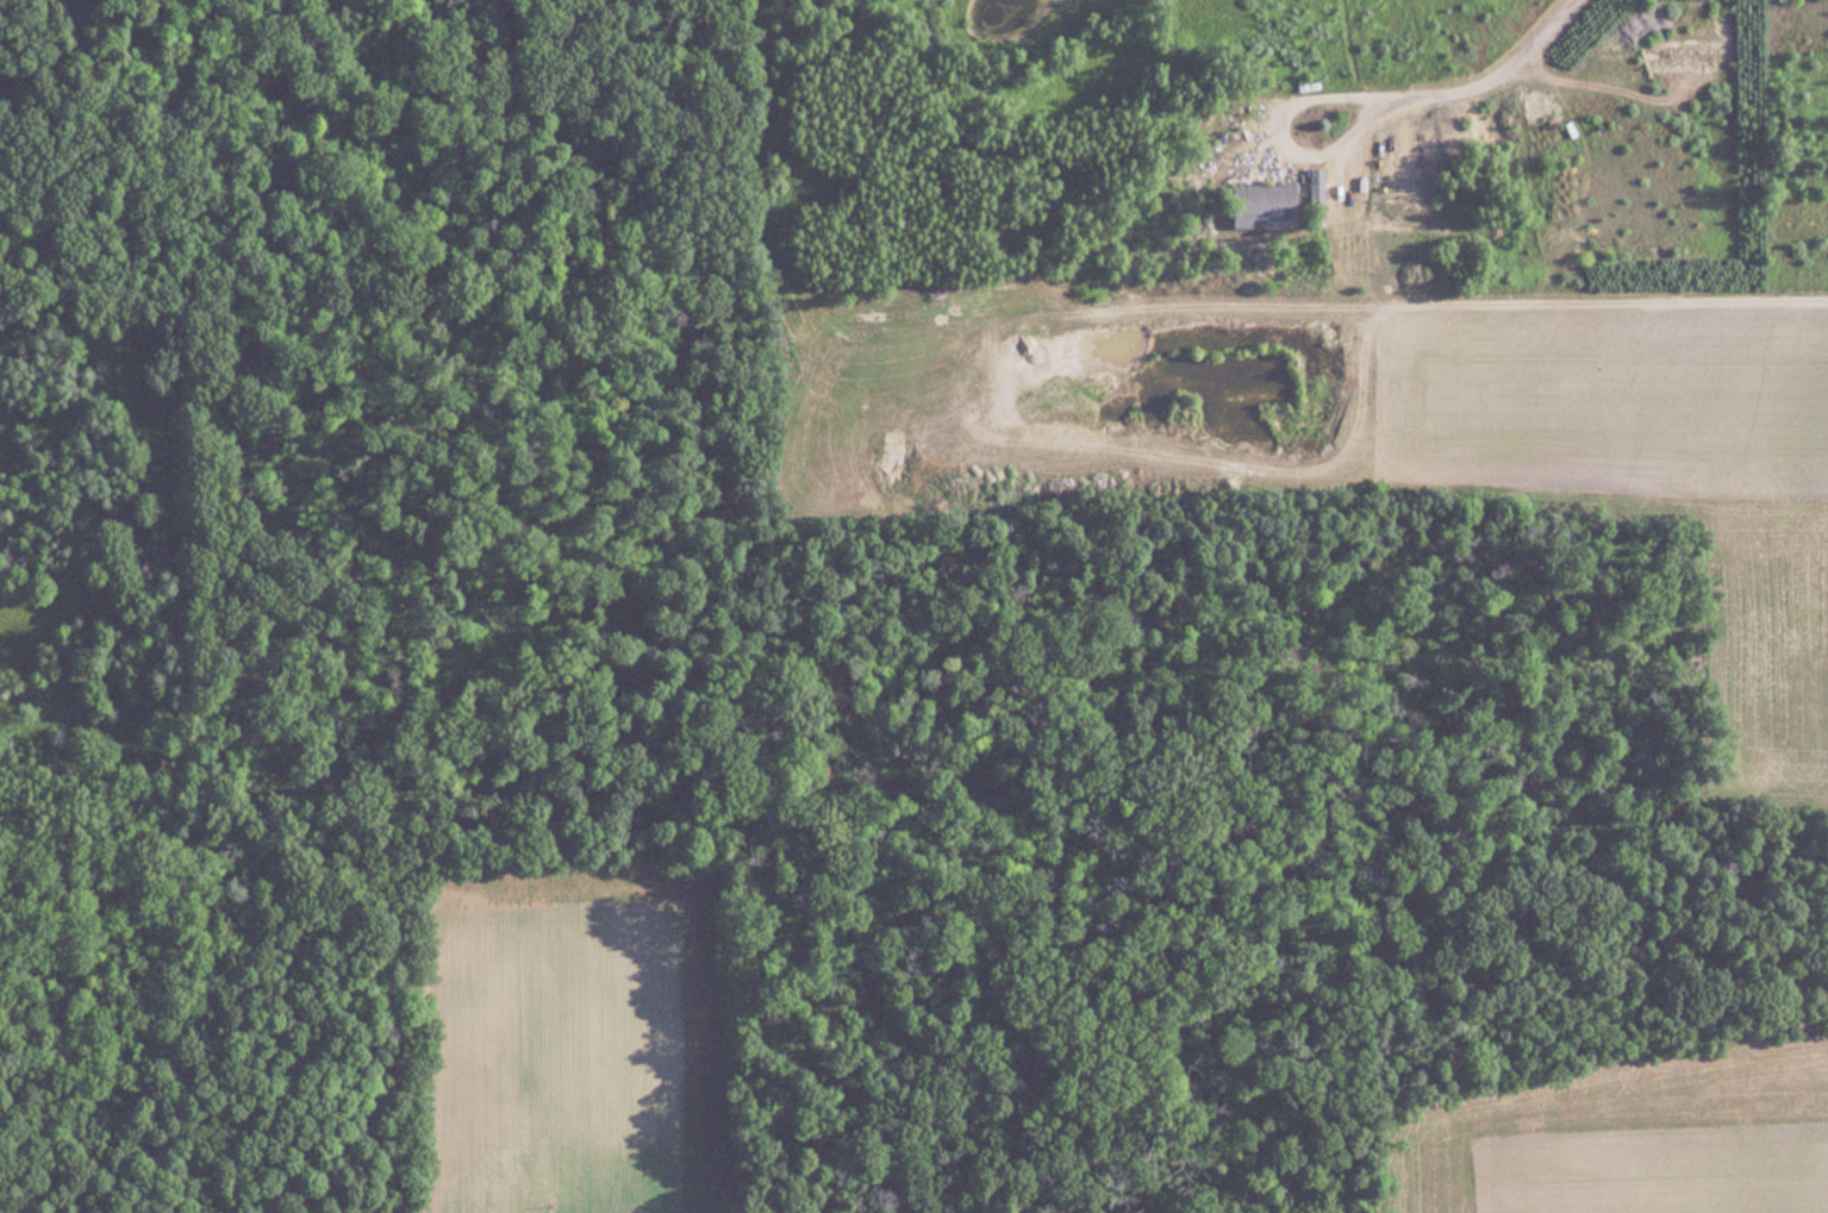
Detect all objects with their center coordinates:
road: (1454, 82)
building: (1317, 193)
building: (1268, 204)

